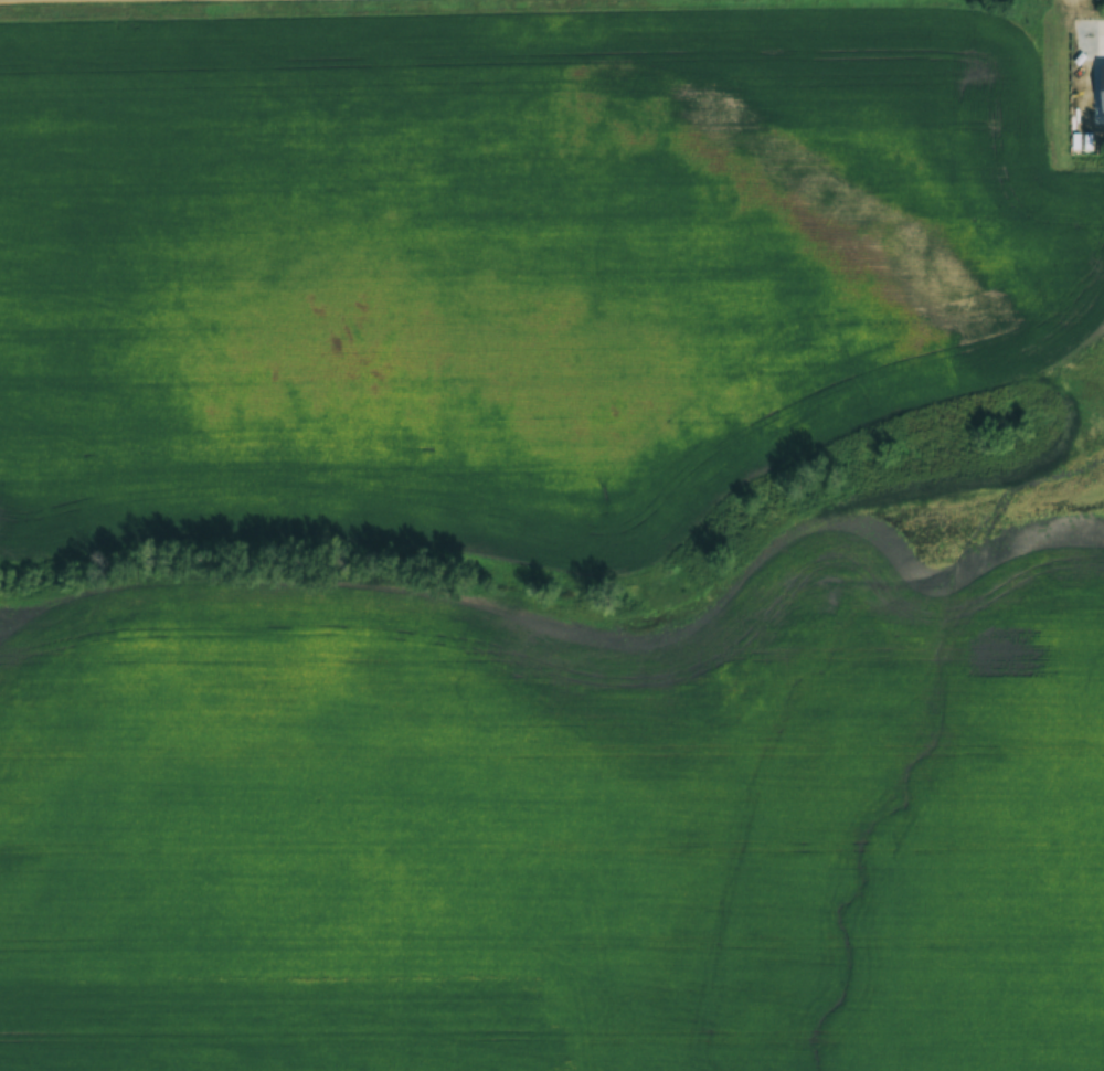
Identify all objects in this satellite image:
building: (1084, 39)

